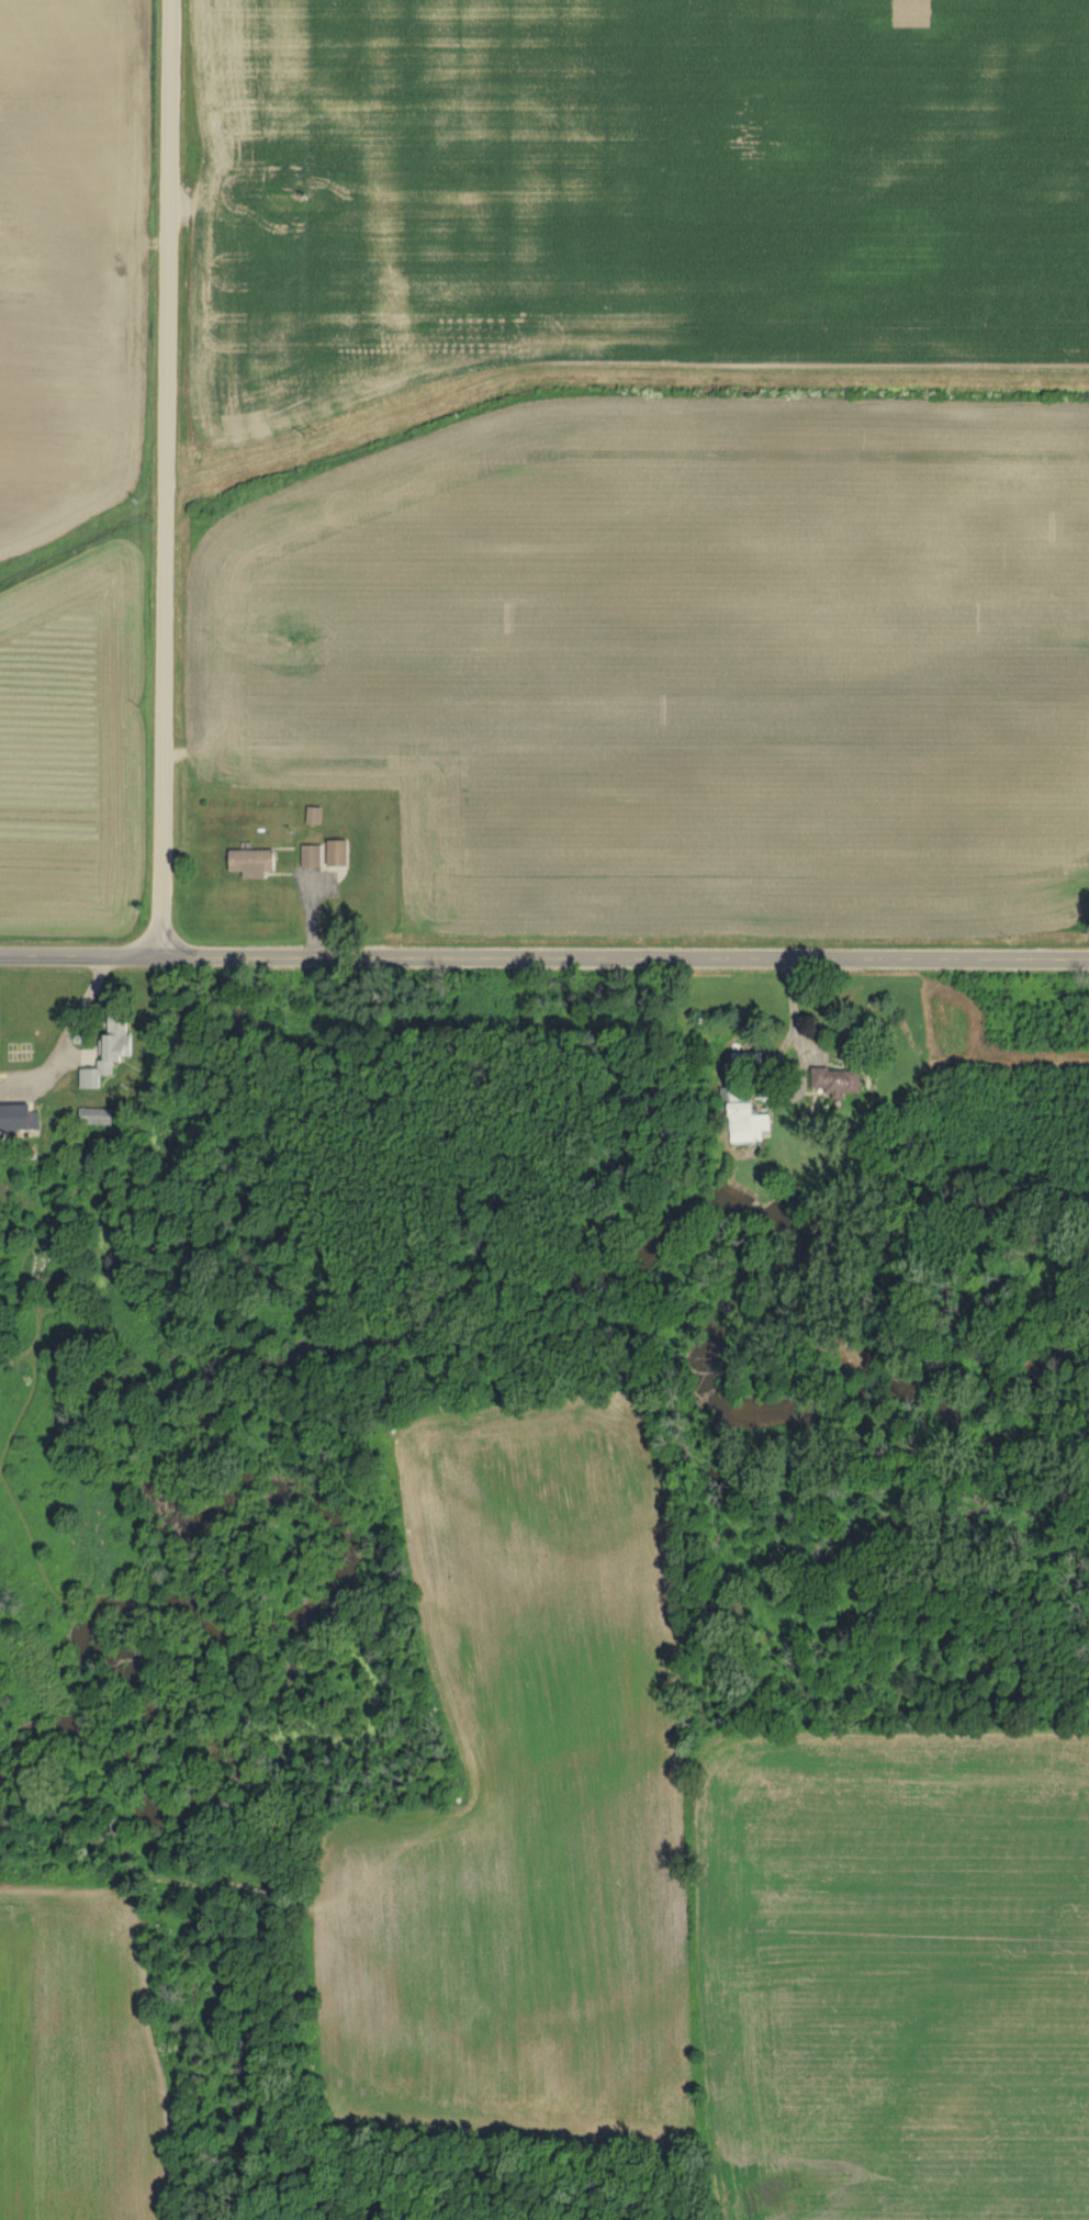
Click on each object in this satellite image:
road: (164, 479)
building: (340, 859)
building: (313, 862)
building: (255, 866)
road: (543, 960)
building: (120, 1032)
building: (117, 1066)
building: (845, 1087)
building: (21, 1121)
building: (96, 1121)
building: (749, 1122)
river: (570, 1211)
river: (130, 1731)

